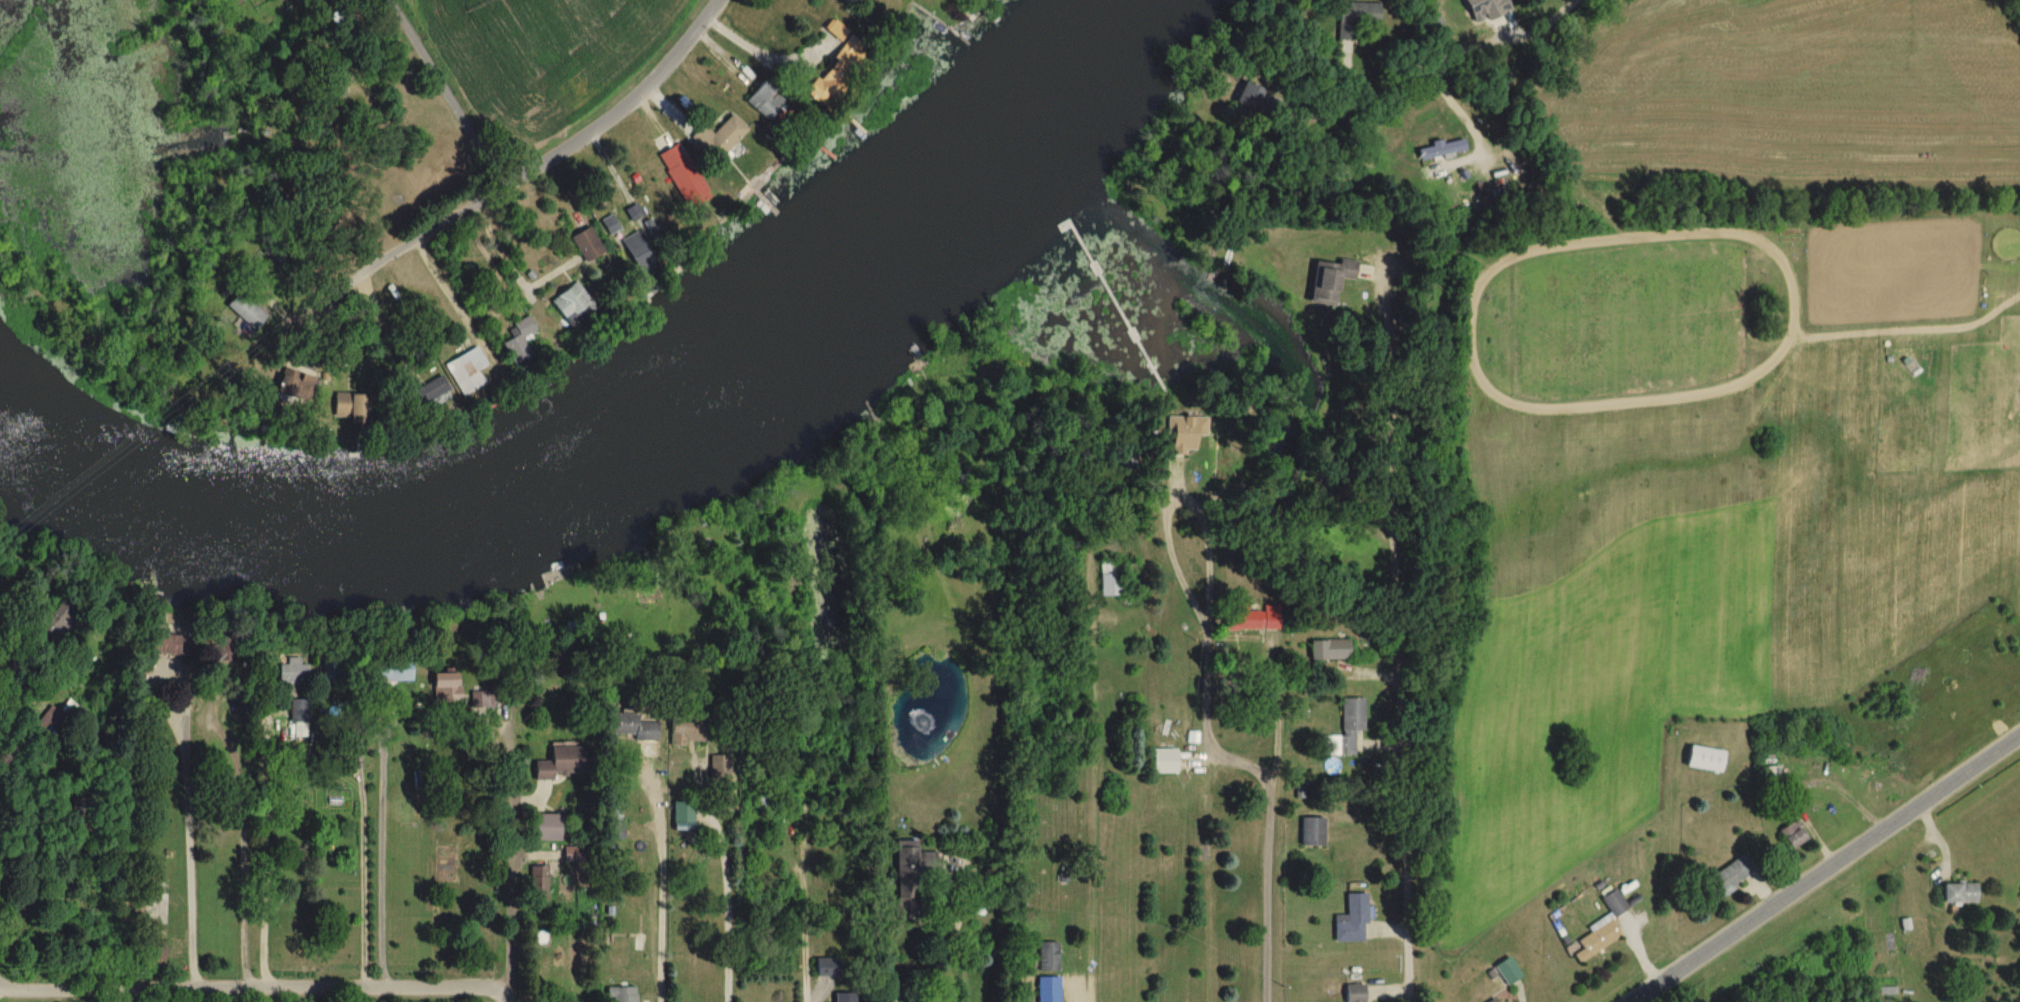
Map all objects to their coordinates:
building: (1354, 17)
road: (763, 55)
building: (835, 68)
building: (334, 87)
road: (1403, 95)
building: (1249, 96)
building: (764, 100)
building: (316, 125)
building: (717, 138)
building: (1441, 148)
road: (539, 164)
building: (683, 175)
building: (586, 244)
building: (633, 245)
road: (404, 247)
road: (507, 262)
building: (1328, 280)
road: (442, 287)
building: (569, 301)
building: (245, 311)
building: (519, 342)
building: (466, 370)
building: (430, 386)
building: (299, 387)
building: (351, 406)
building: (1185, 433)
river: (637, 452)
building: (1109, 579)
building: (59, 610)
building: (667, 613)
building: (1244, 619)
road: (1396, 632)
building: (163, 645)
road: (1207, 647)
building: (1329, 649)
building: (218, 651)
building: (391, 671)
building: (291, 673)
building: (445, 687)
building: (298, 717)
building: (55, 720)
building: (633, 728)
building: (1345, 729)
building: (686, 732)
building: (1704, 759)
building: (1163, 760)
building: (560, 764)
building: (1770, 775)
building: (764, 801)
building: (682, 812)
building: (544, 827)
building: (615, 831)
building: (1312, 831)
building: (1792, 834)
road: (186, 840)
road: (1276, 845)
road: (378, 851)
road: (260, 852)
road: (508, 852)
road: (1822, 867)
building: (1727, 877)
building: (910, 879)
road: (802, 882)
building: (537, 883)
building: (1958, 893)
building: (1614, 903)
road: (726, 906)
road: (659, 908)
building: (1352, 920)
building: (1598, 939)
building: (154, 951)
road: (932, 951)
building: (1048, 957)
building: (827, 967)
building: (1506, 971)
road: (2, 985)
road: (252, 987)
building: (1048, 989)
building: (1355, 993)
building: (623, 994)
road: (1068, 996)
building: (843, 997)
building: (1492, 1000)

